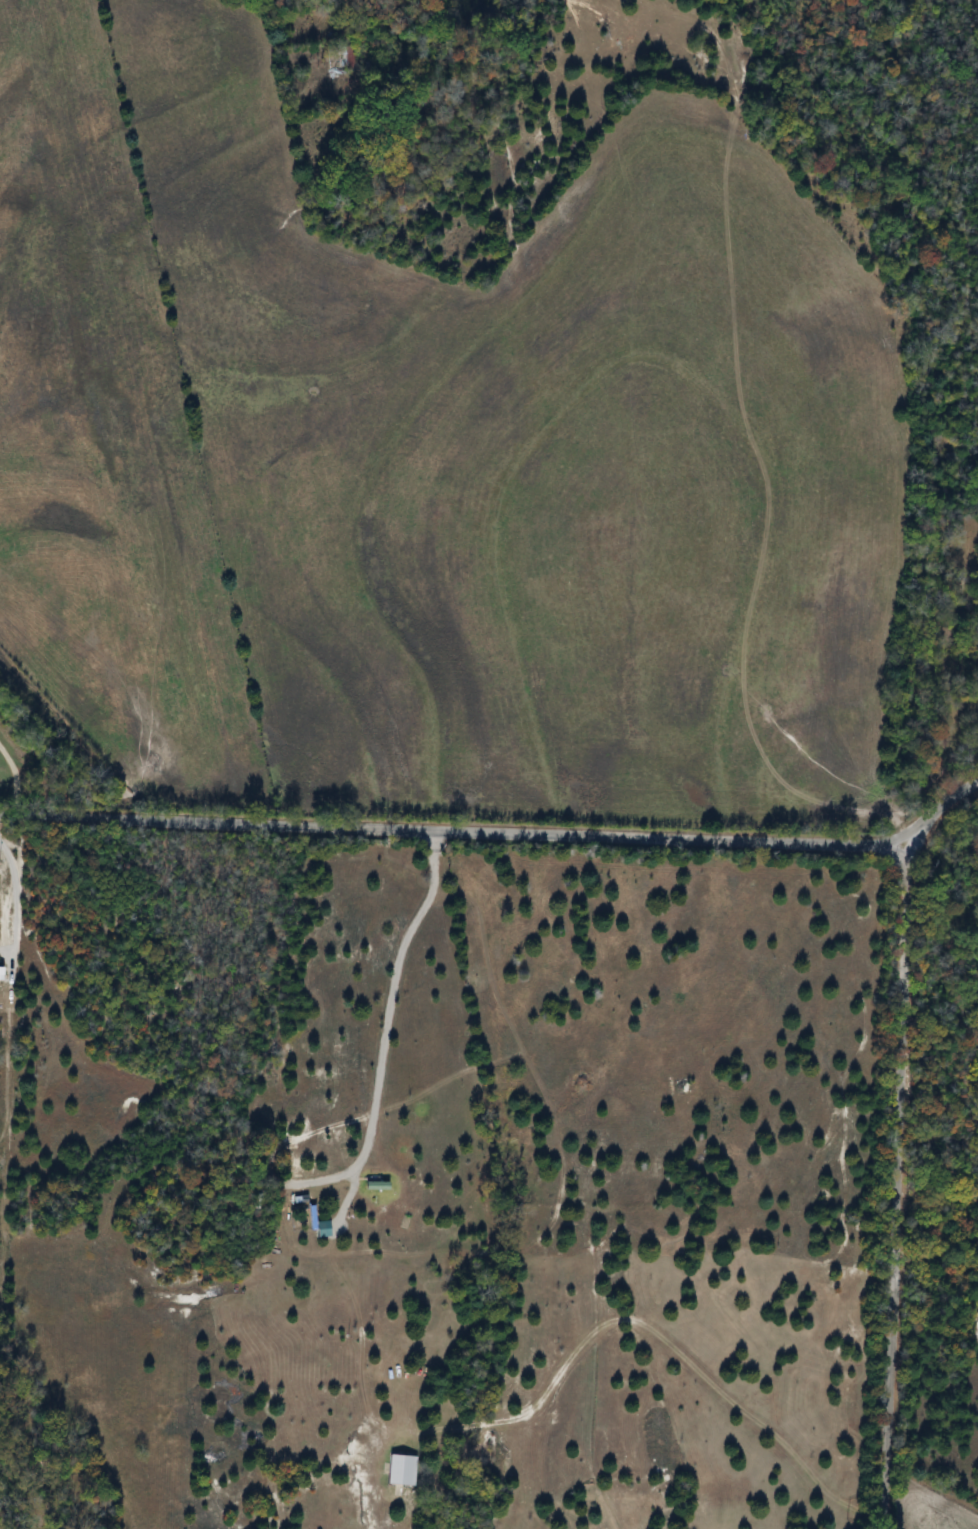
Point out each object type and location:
building: (347, 64)
road: (16, 778)
road: (496, 832)
road: (17, 900)
road: (384, 1016)
road: (899, 1182)
building: (398, 1471)

